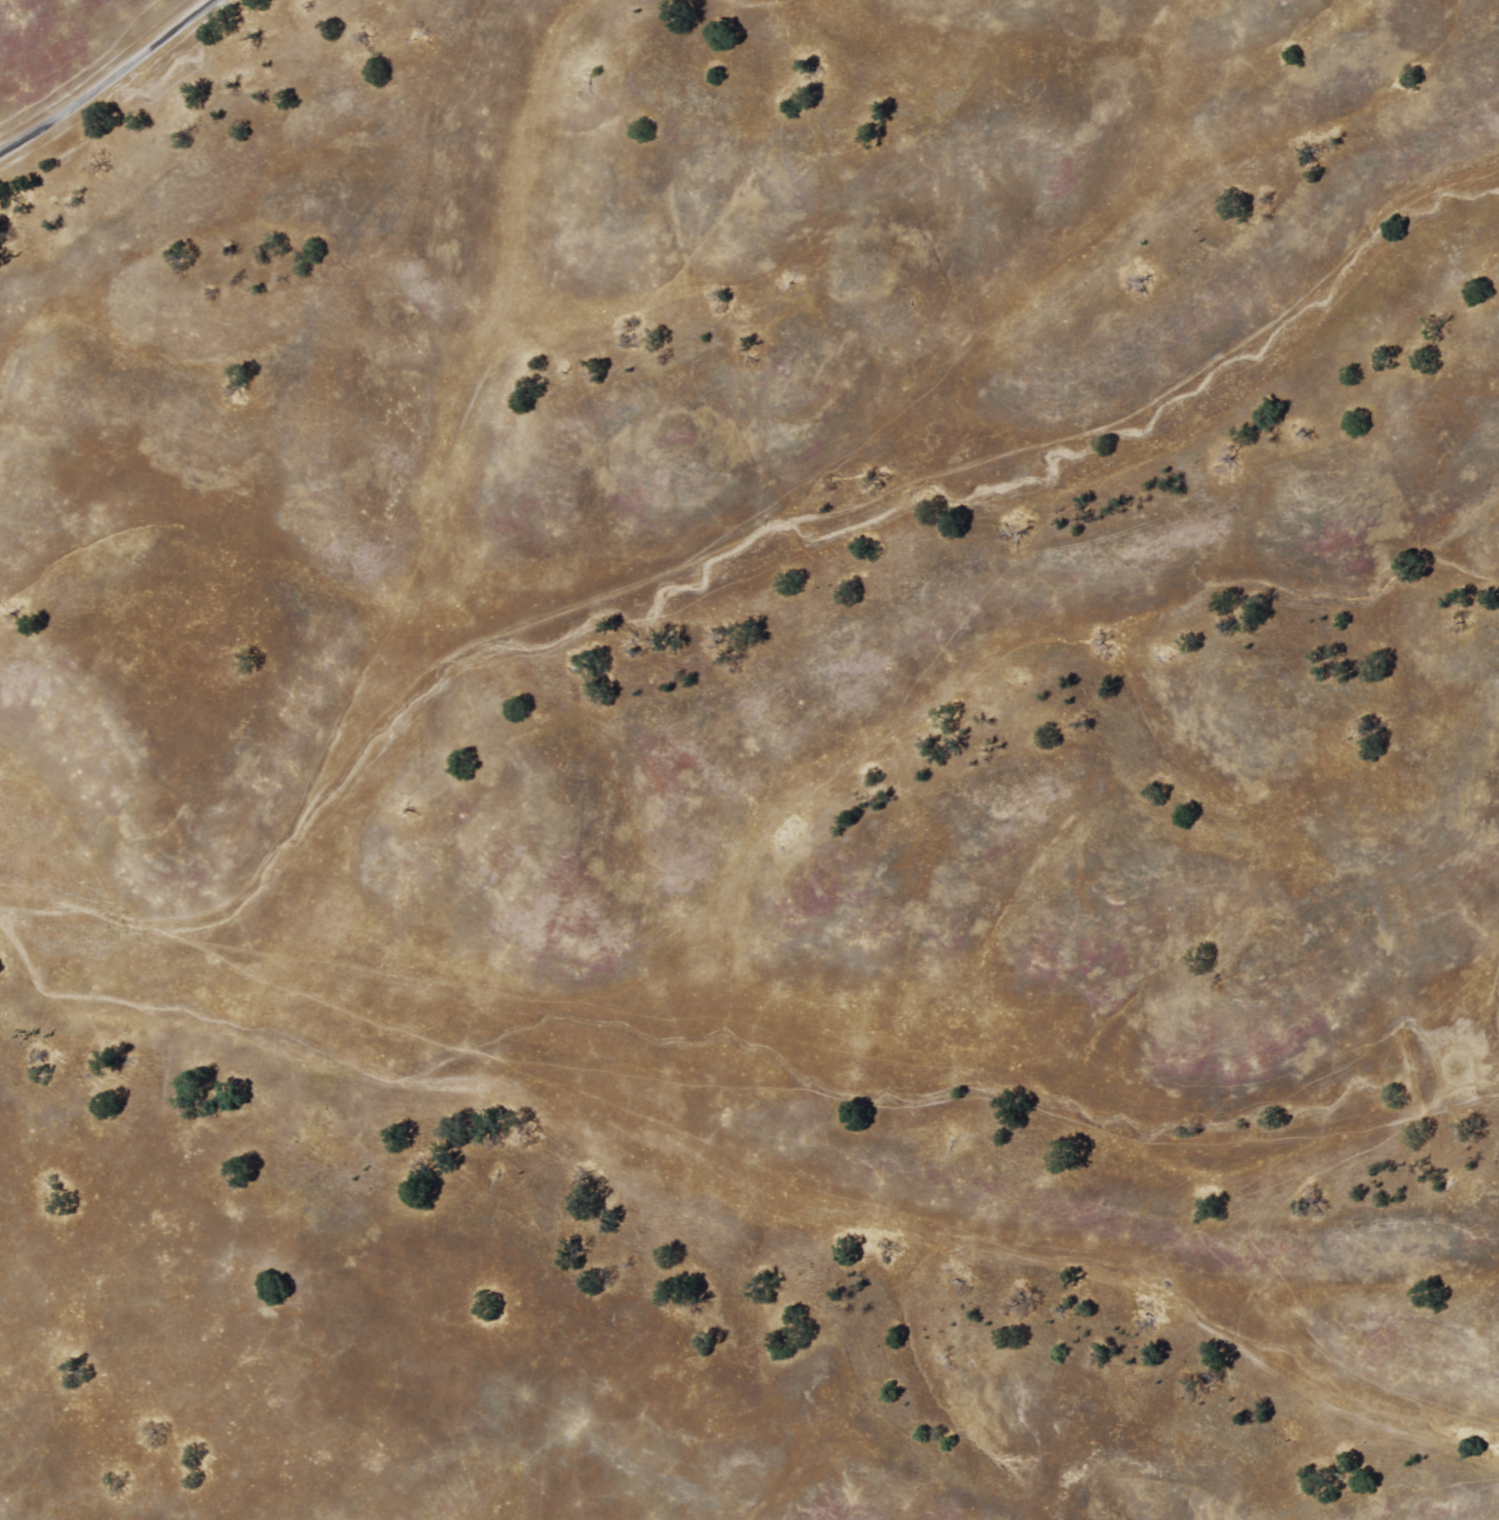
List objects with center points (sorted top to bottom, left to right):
road: (106, 78)

